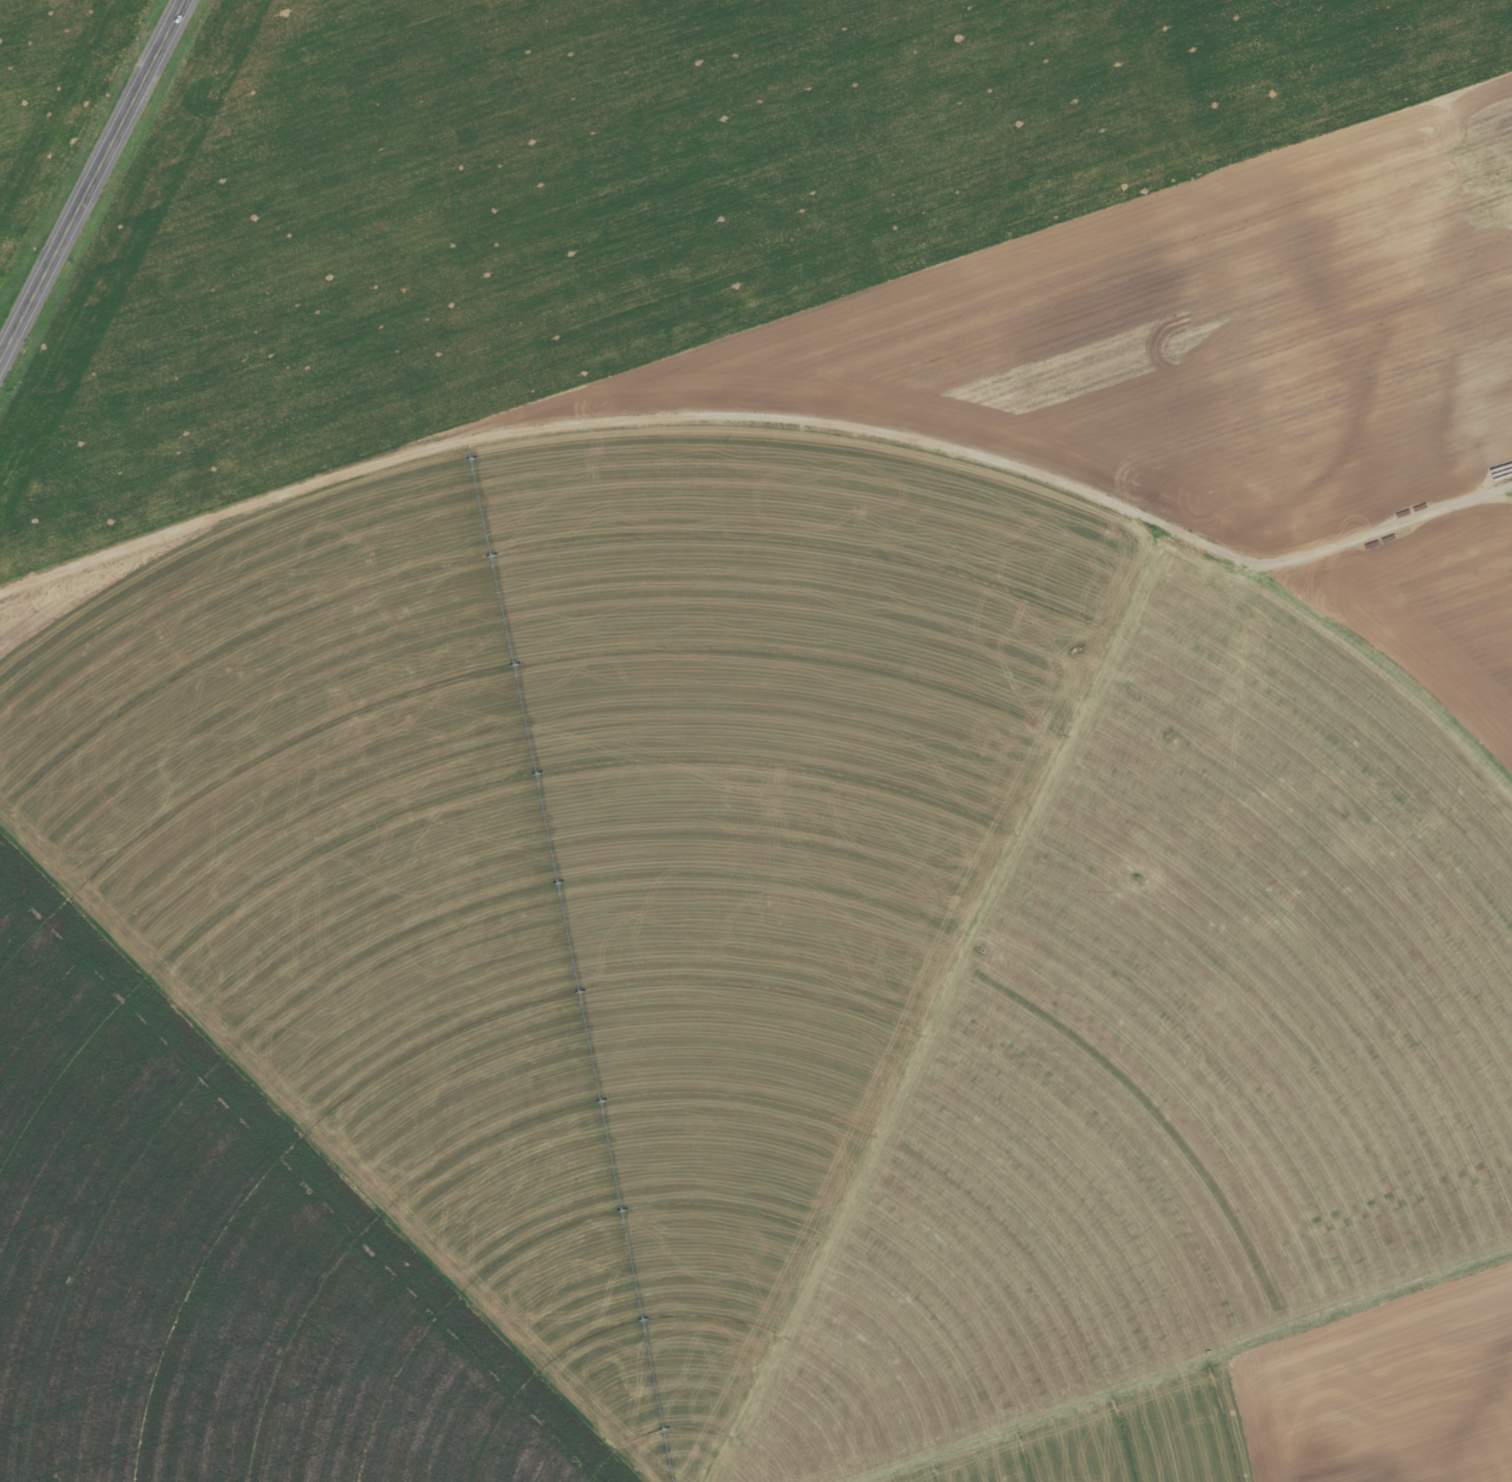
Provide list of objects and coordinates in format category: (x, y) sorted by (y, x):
road: (91, 179)
building: (1491, 335)
building: (1500, 453)
road: (1322, 576)
road: (756, 721)

